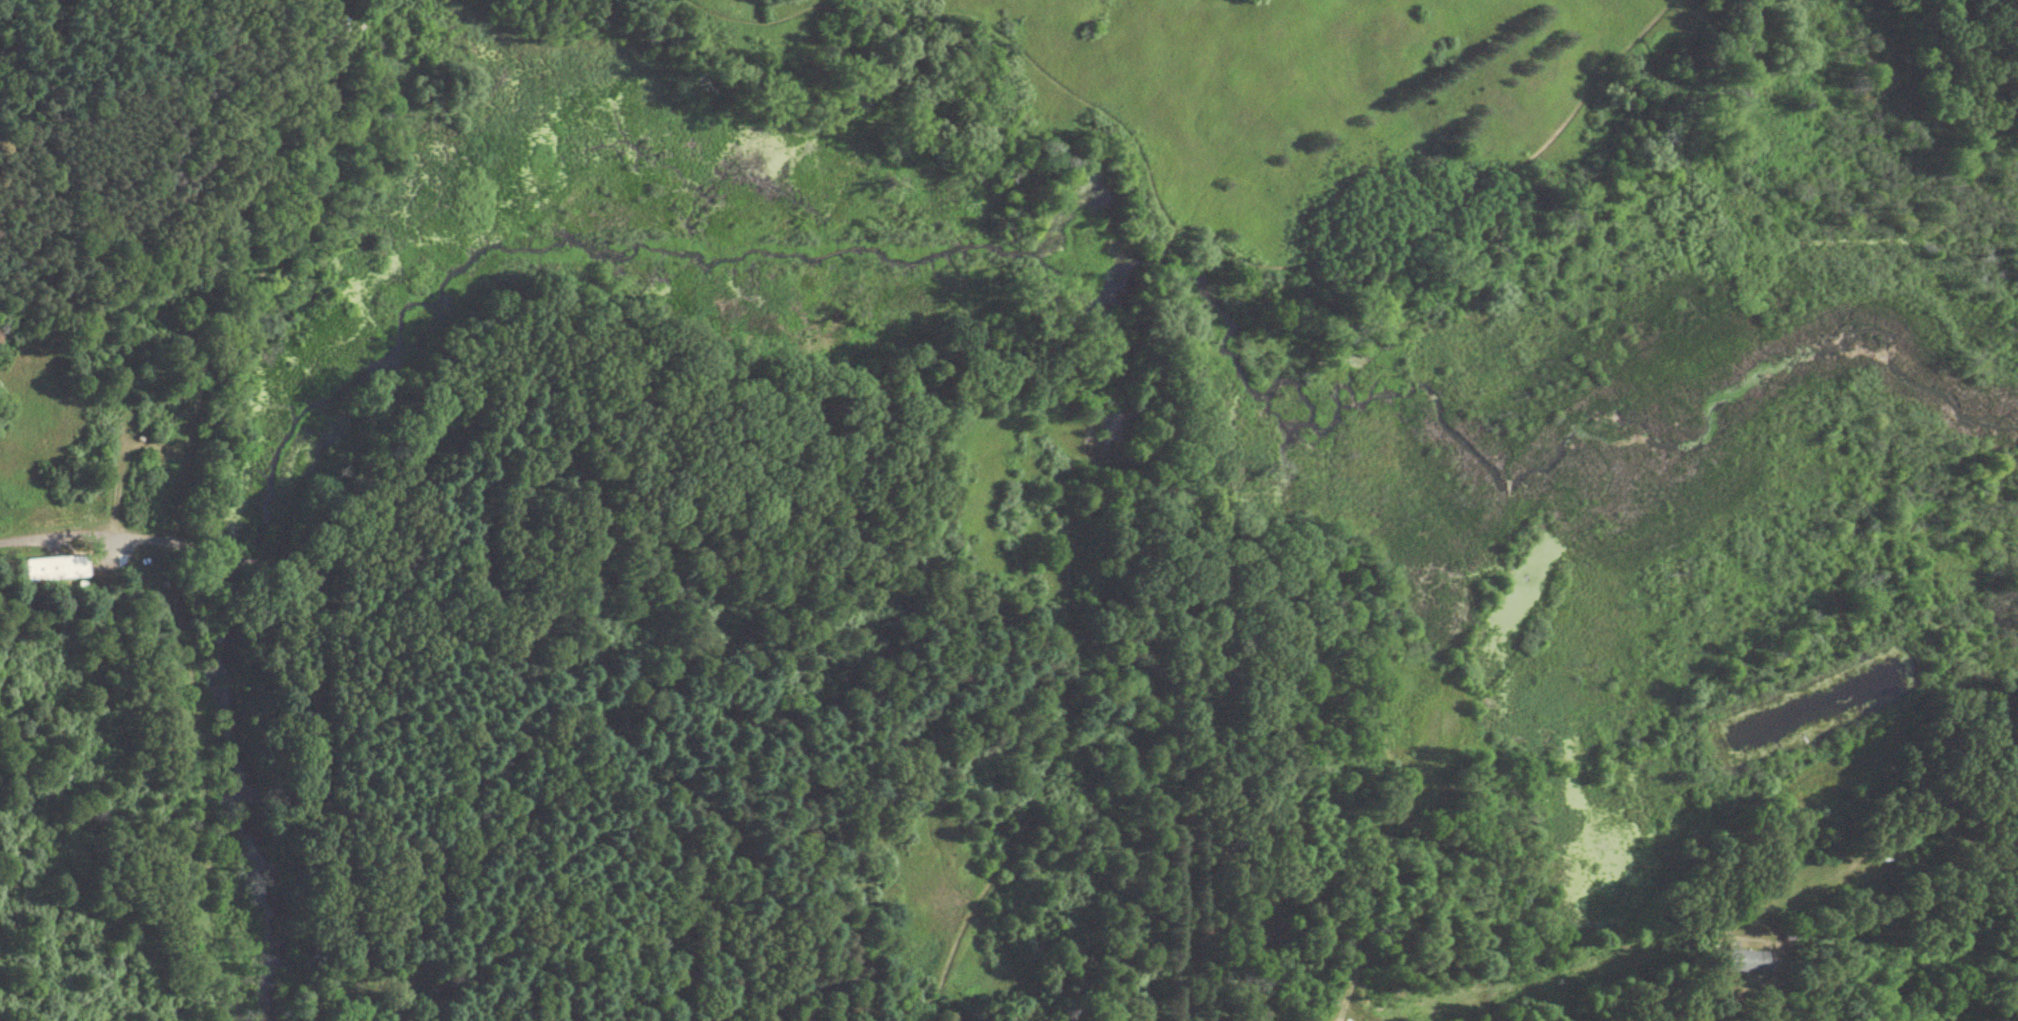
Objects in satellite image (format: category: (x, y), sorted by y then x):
road: (24, 536)
building: (53, 566)
building: (1741, 958)
road: (1772, 993)

